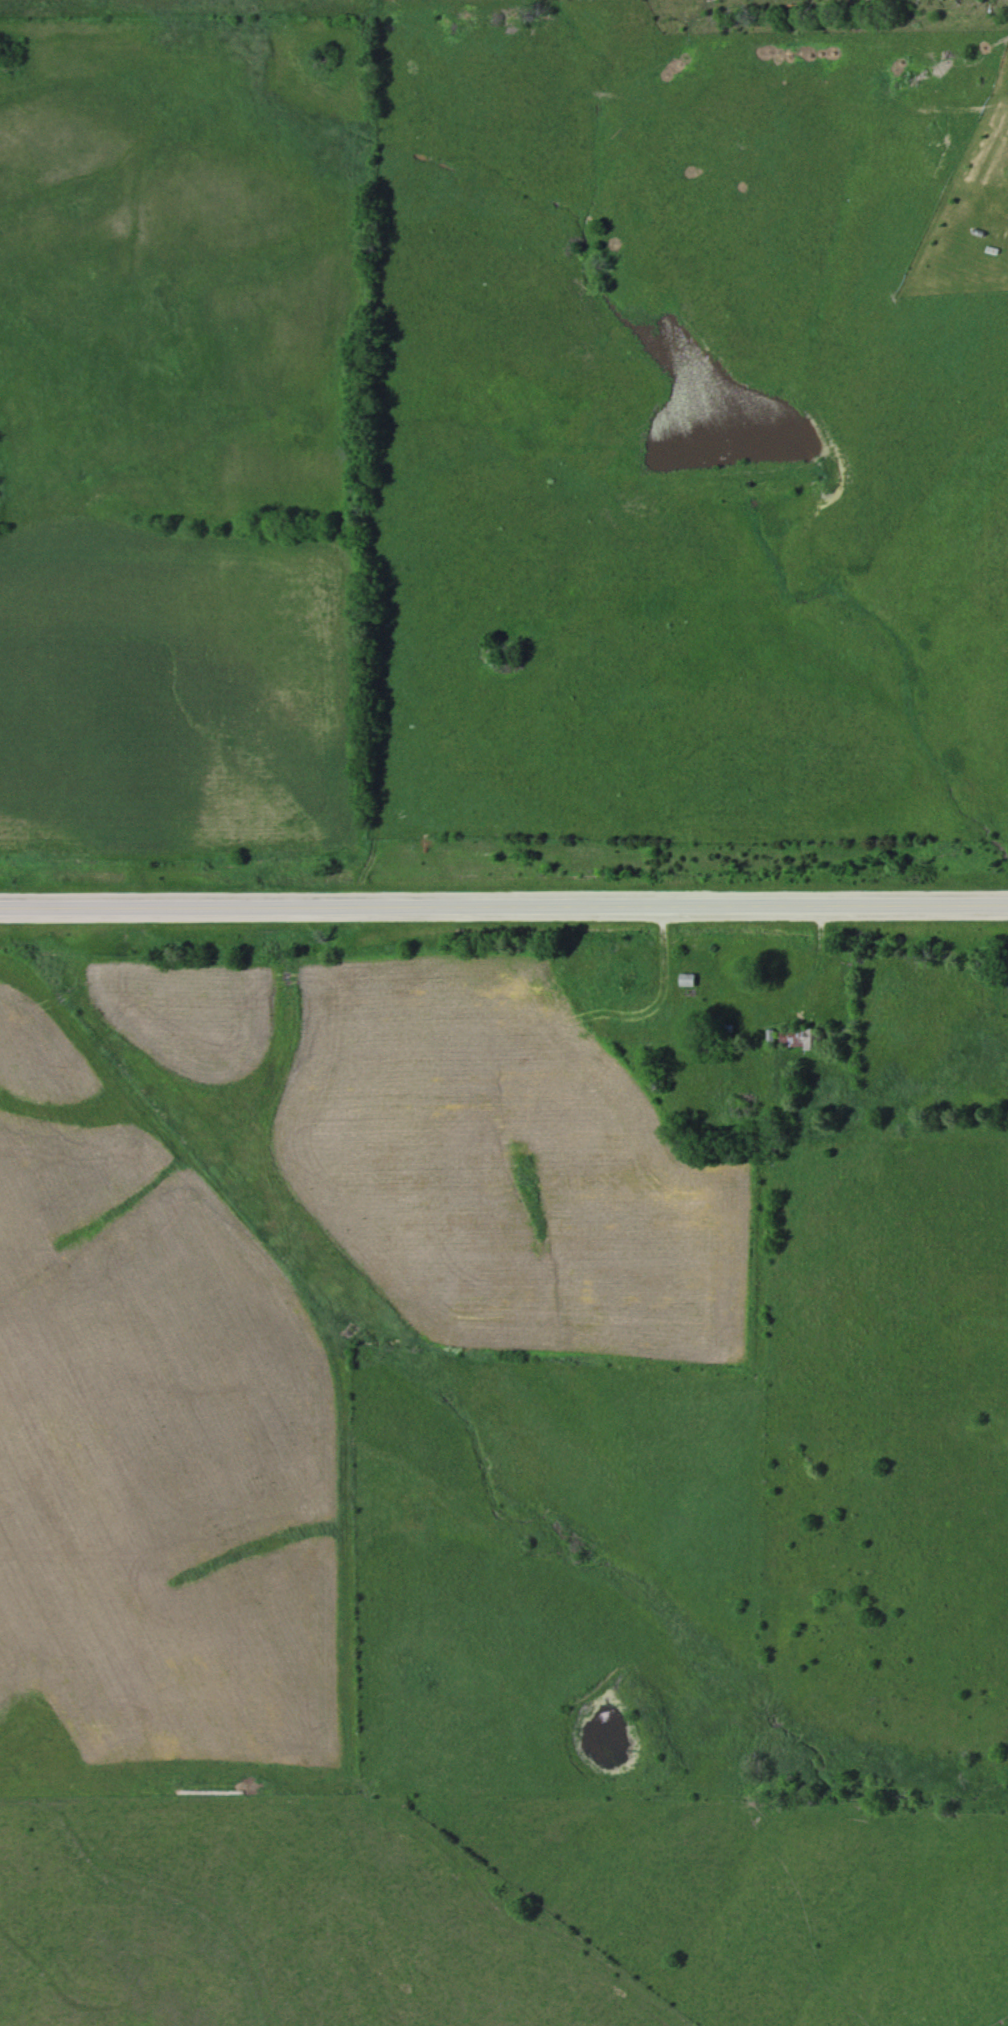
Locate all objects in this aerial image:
road: (504, 906)
building: (617, 975)
building: (683, 980)
building: (795, 1037)

